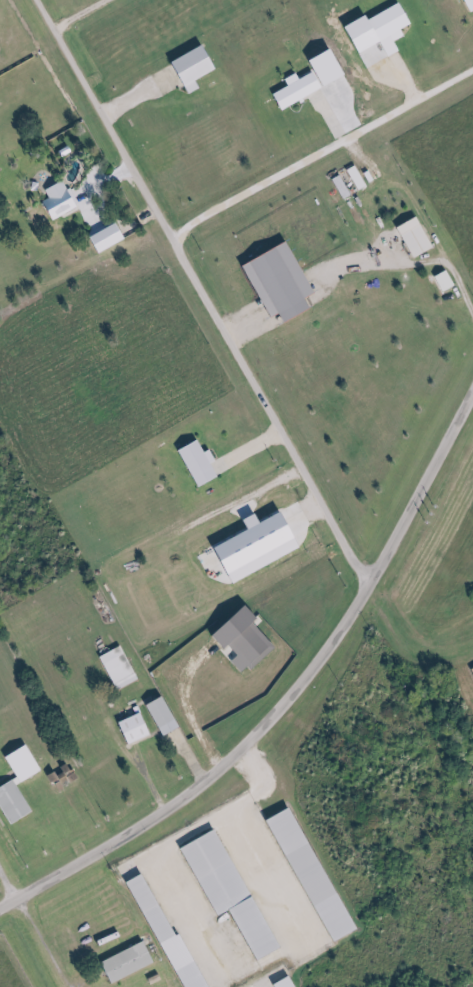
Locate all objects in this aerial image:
road: (323, 153)
building: (351, 178)
building: (62, 203)
building: (409, 237)
road: (205, 292)
building: (470, 672)
building: (123, 678)
road: (290, 704)
building: (165, 716)
building: (135, 729)
building: (25, 764)
building: (69, 771)
building: (14, 802)
building: (280, 832)
building: (208, 854)
building: (144, 893)
building: (128, 961)
building: (282, 982)

